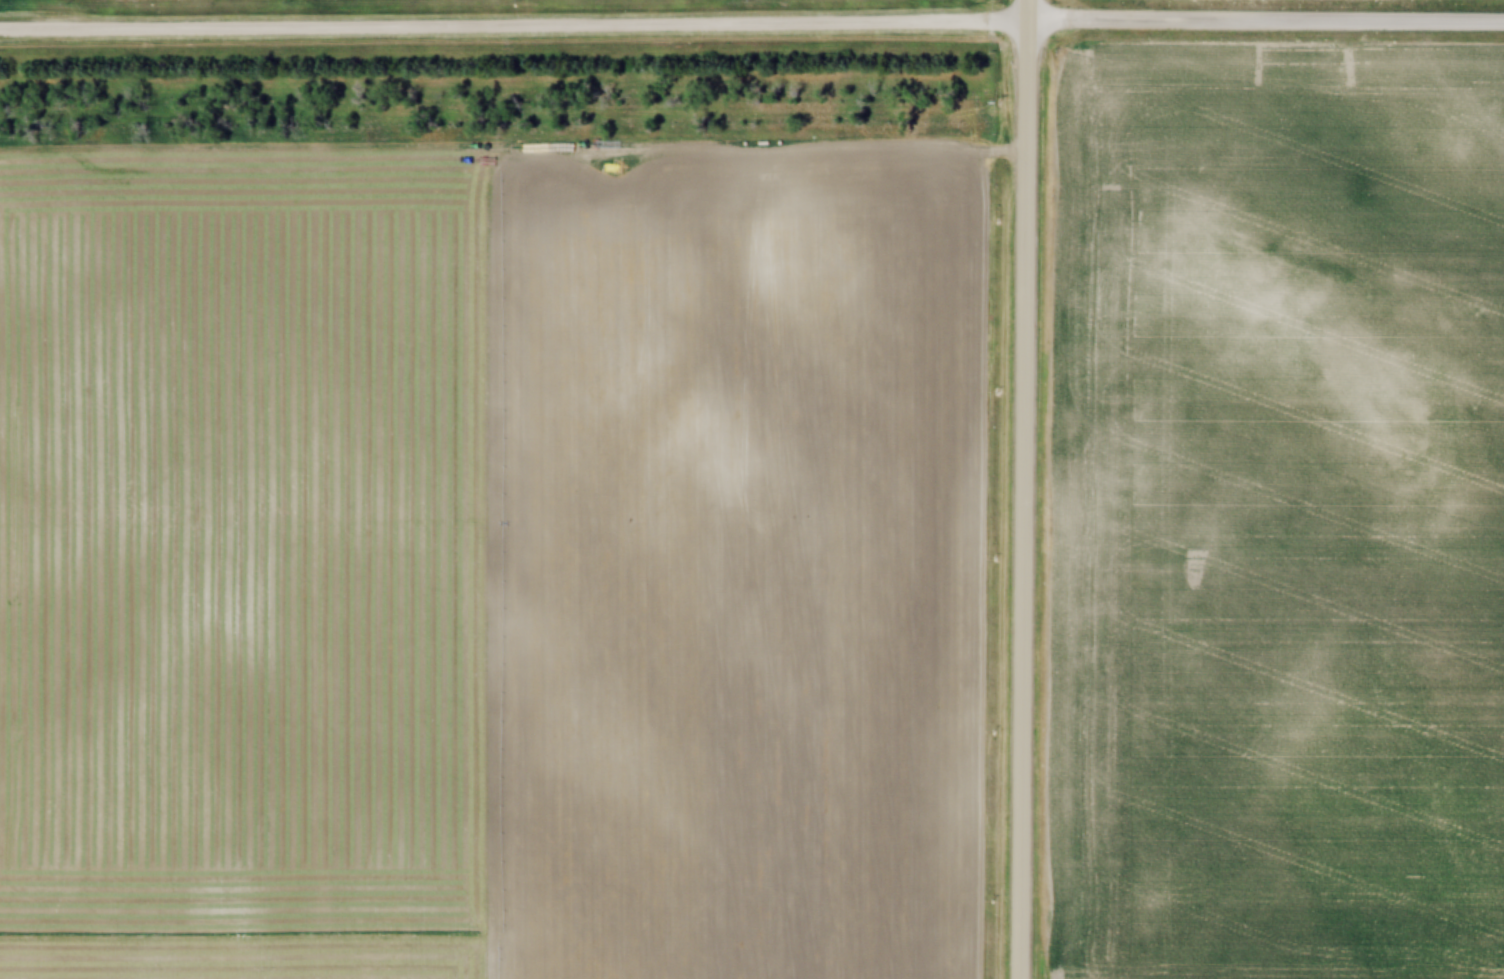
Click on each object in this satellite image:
road: (1263, 27)
road: (511, 30)
road: (1019, 489)

